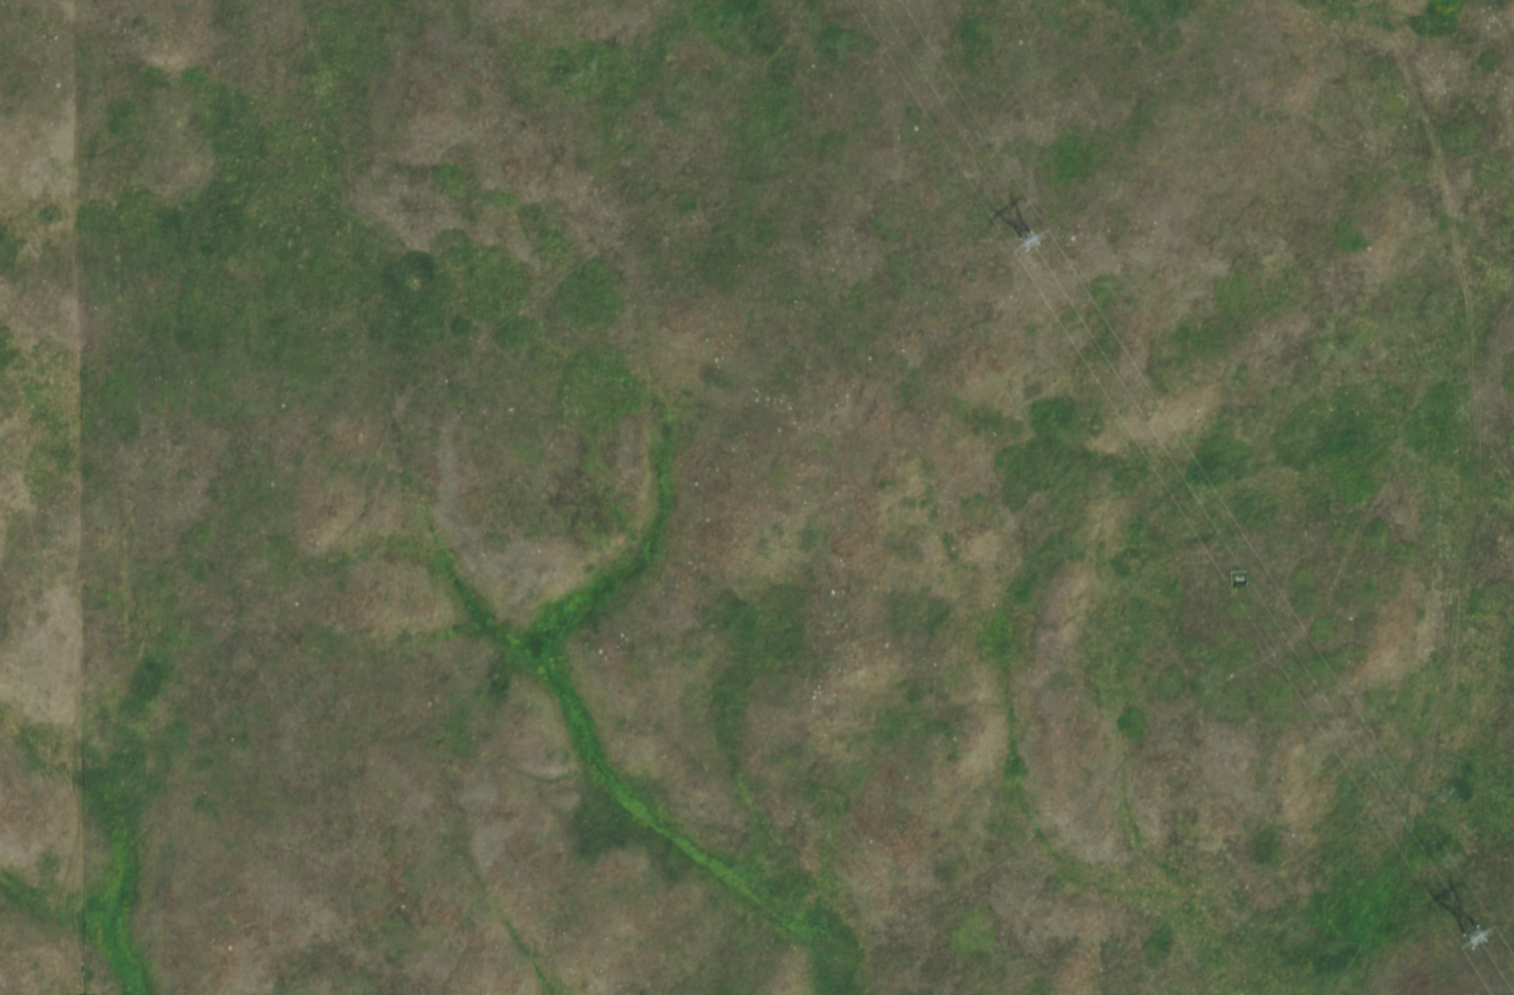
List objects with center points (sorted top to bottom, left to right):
power tower: (1029, 242)
power tower: (1471, 939)

